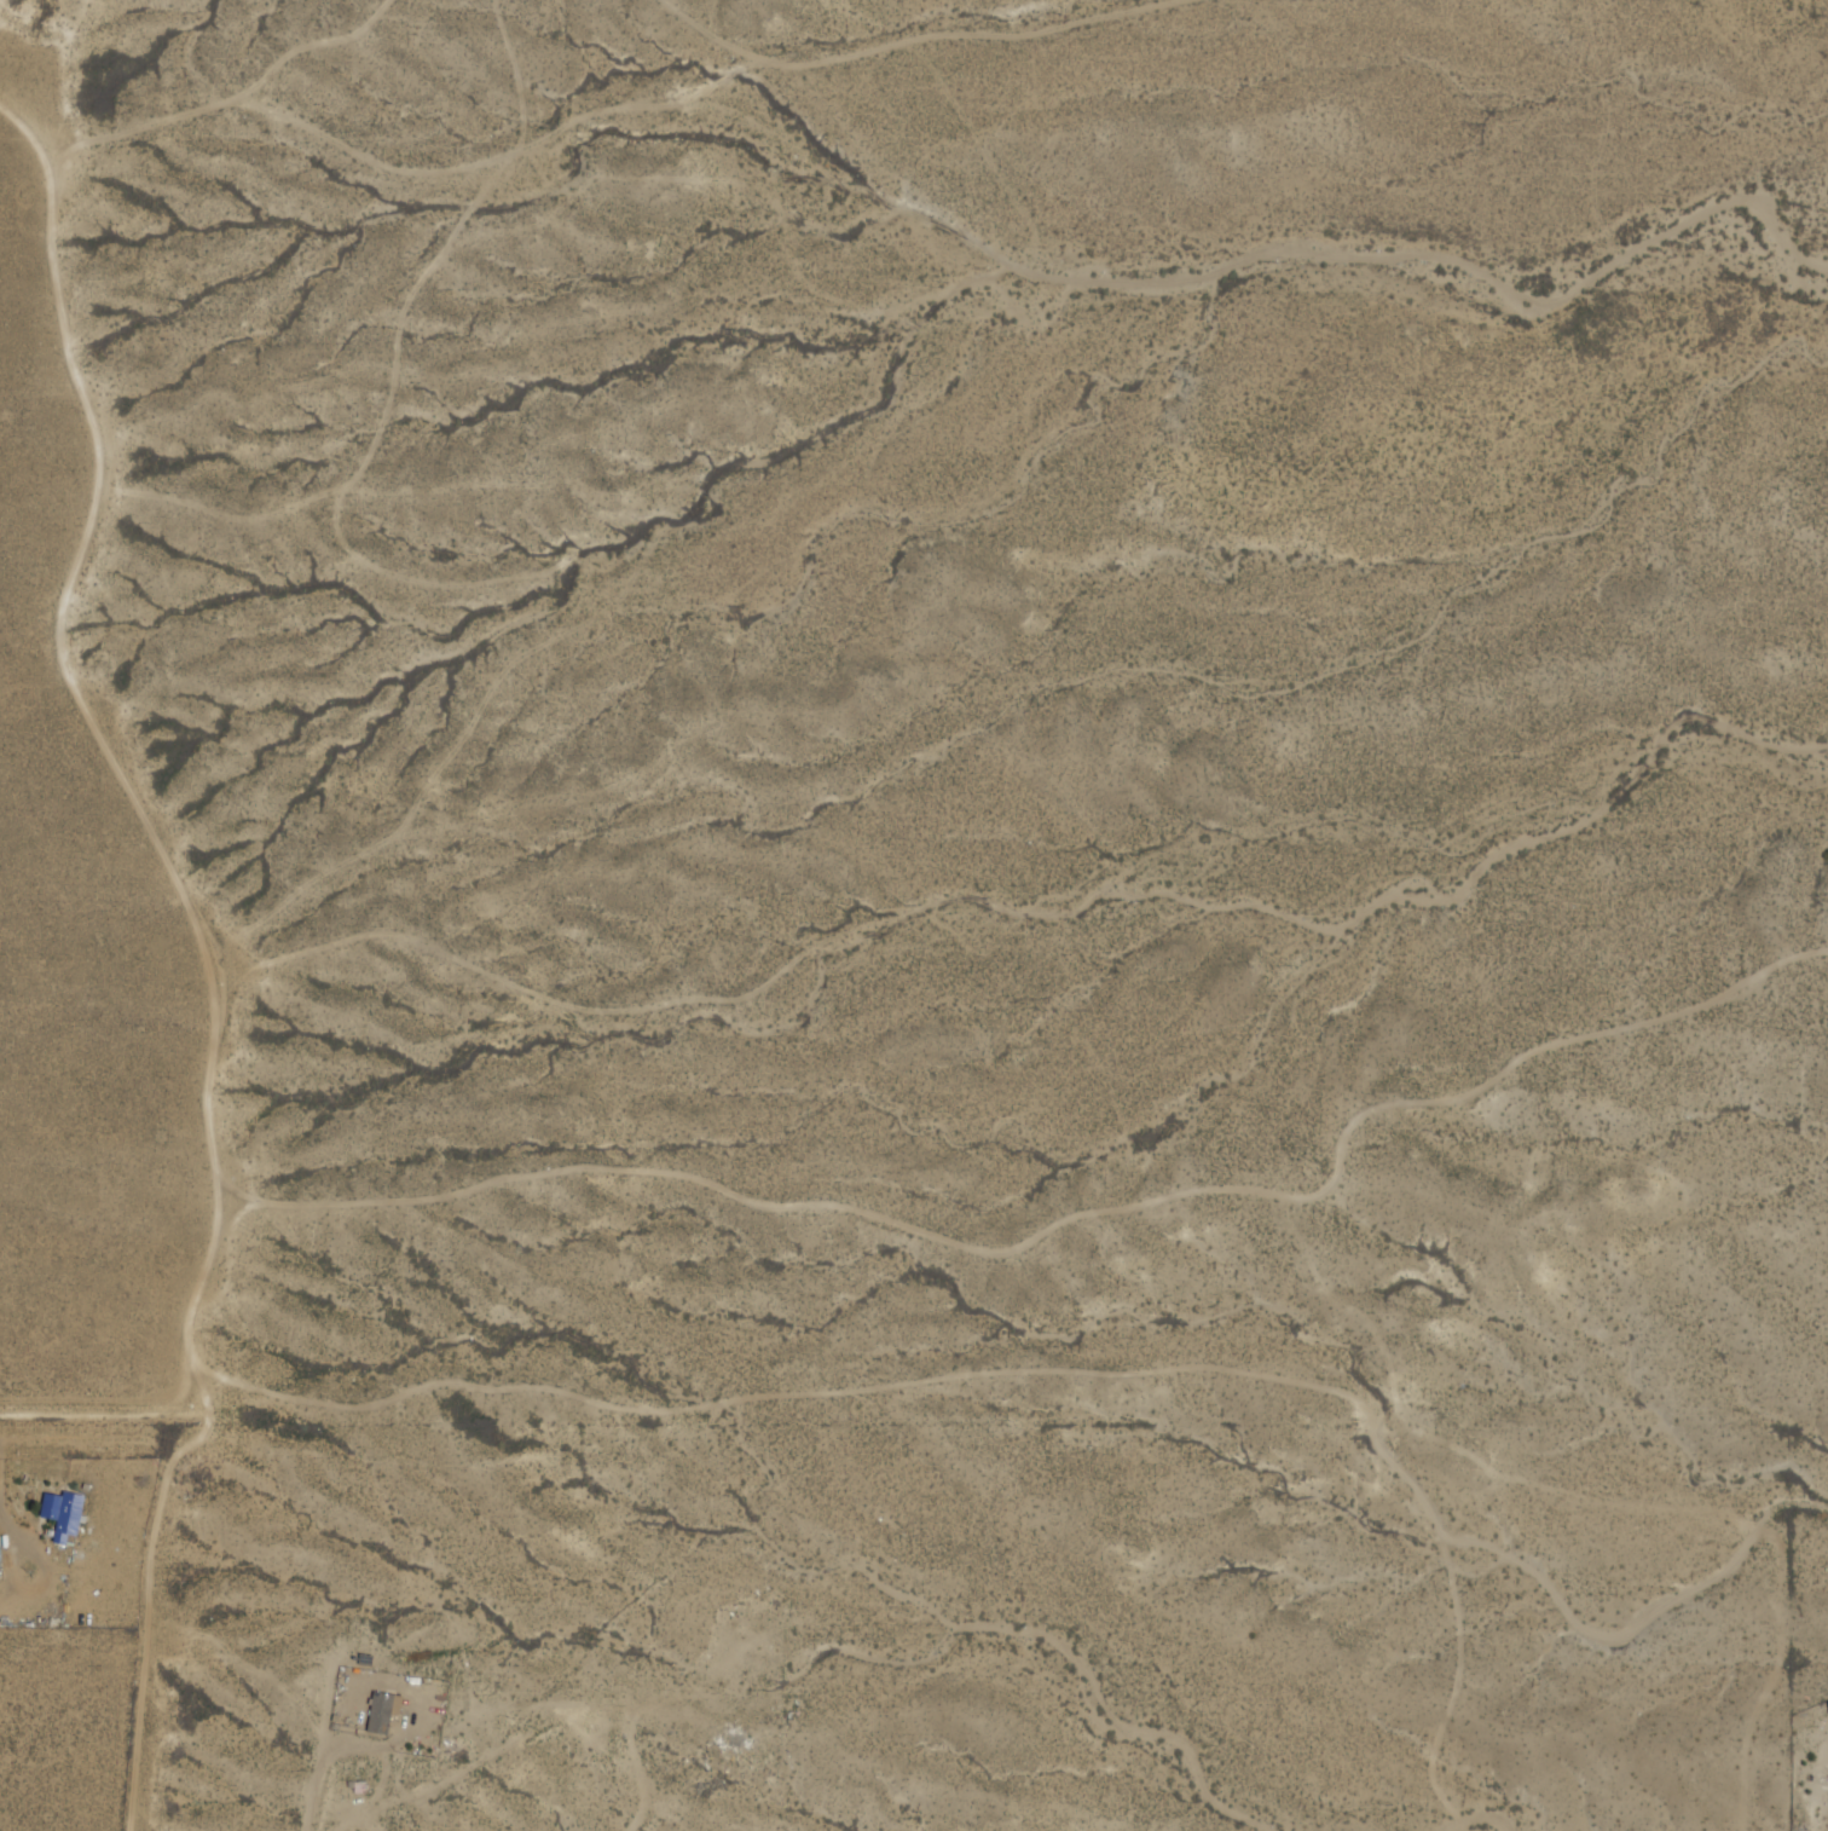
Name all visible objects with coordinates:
road: (219, 932)
road: (88, 1414)
building: (60, 1515)
building: (0, 1542)
building: (381, 1714)

